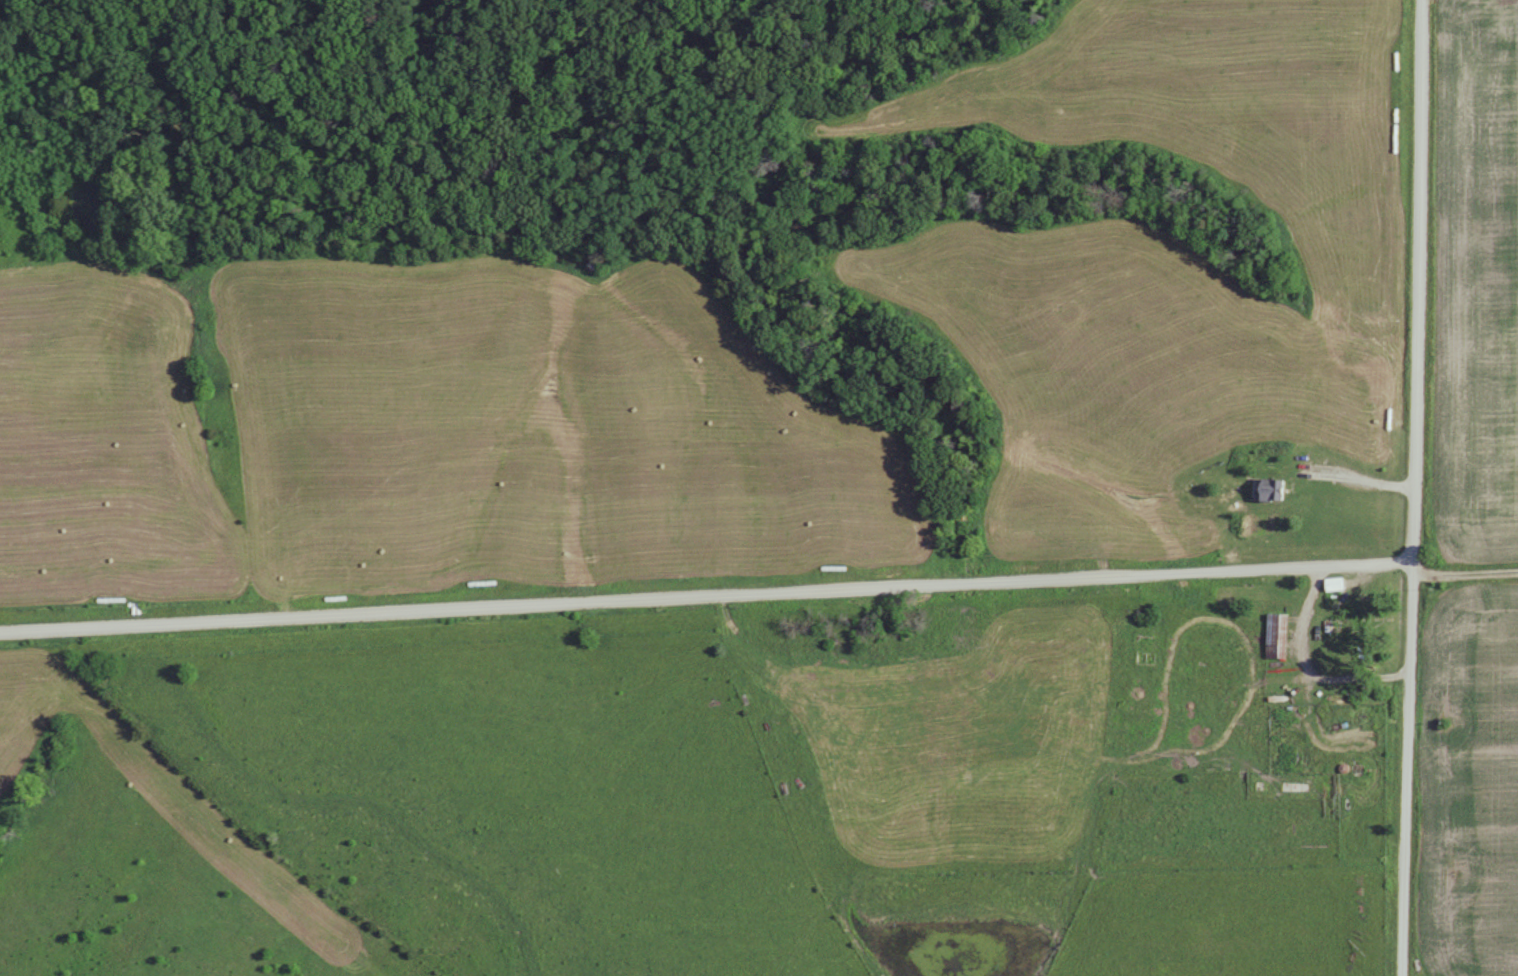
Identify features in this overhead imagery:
road: (1418, 279)
road: (706, 596)
building: (1276, 635)
building: (1280, 755)
road: (1406, 766)

